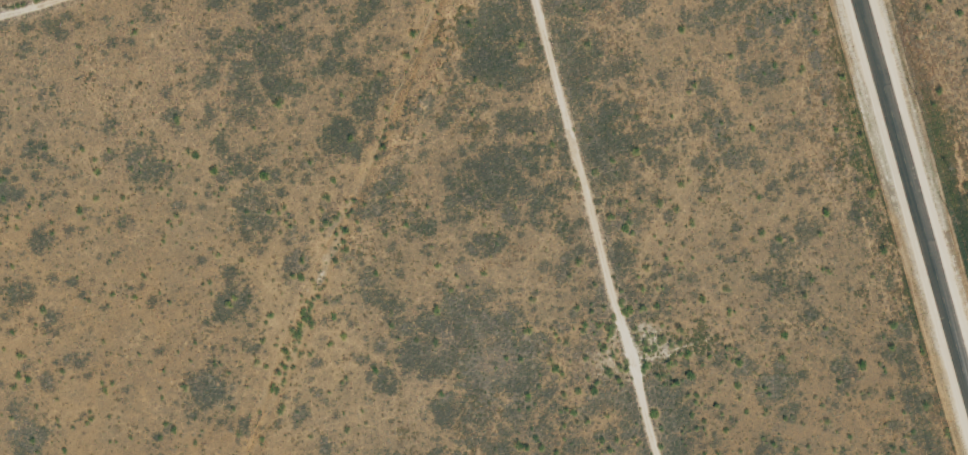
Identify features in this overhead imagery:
road: (913, 194)

